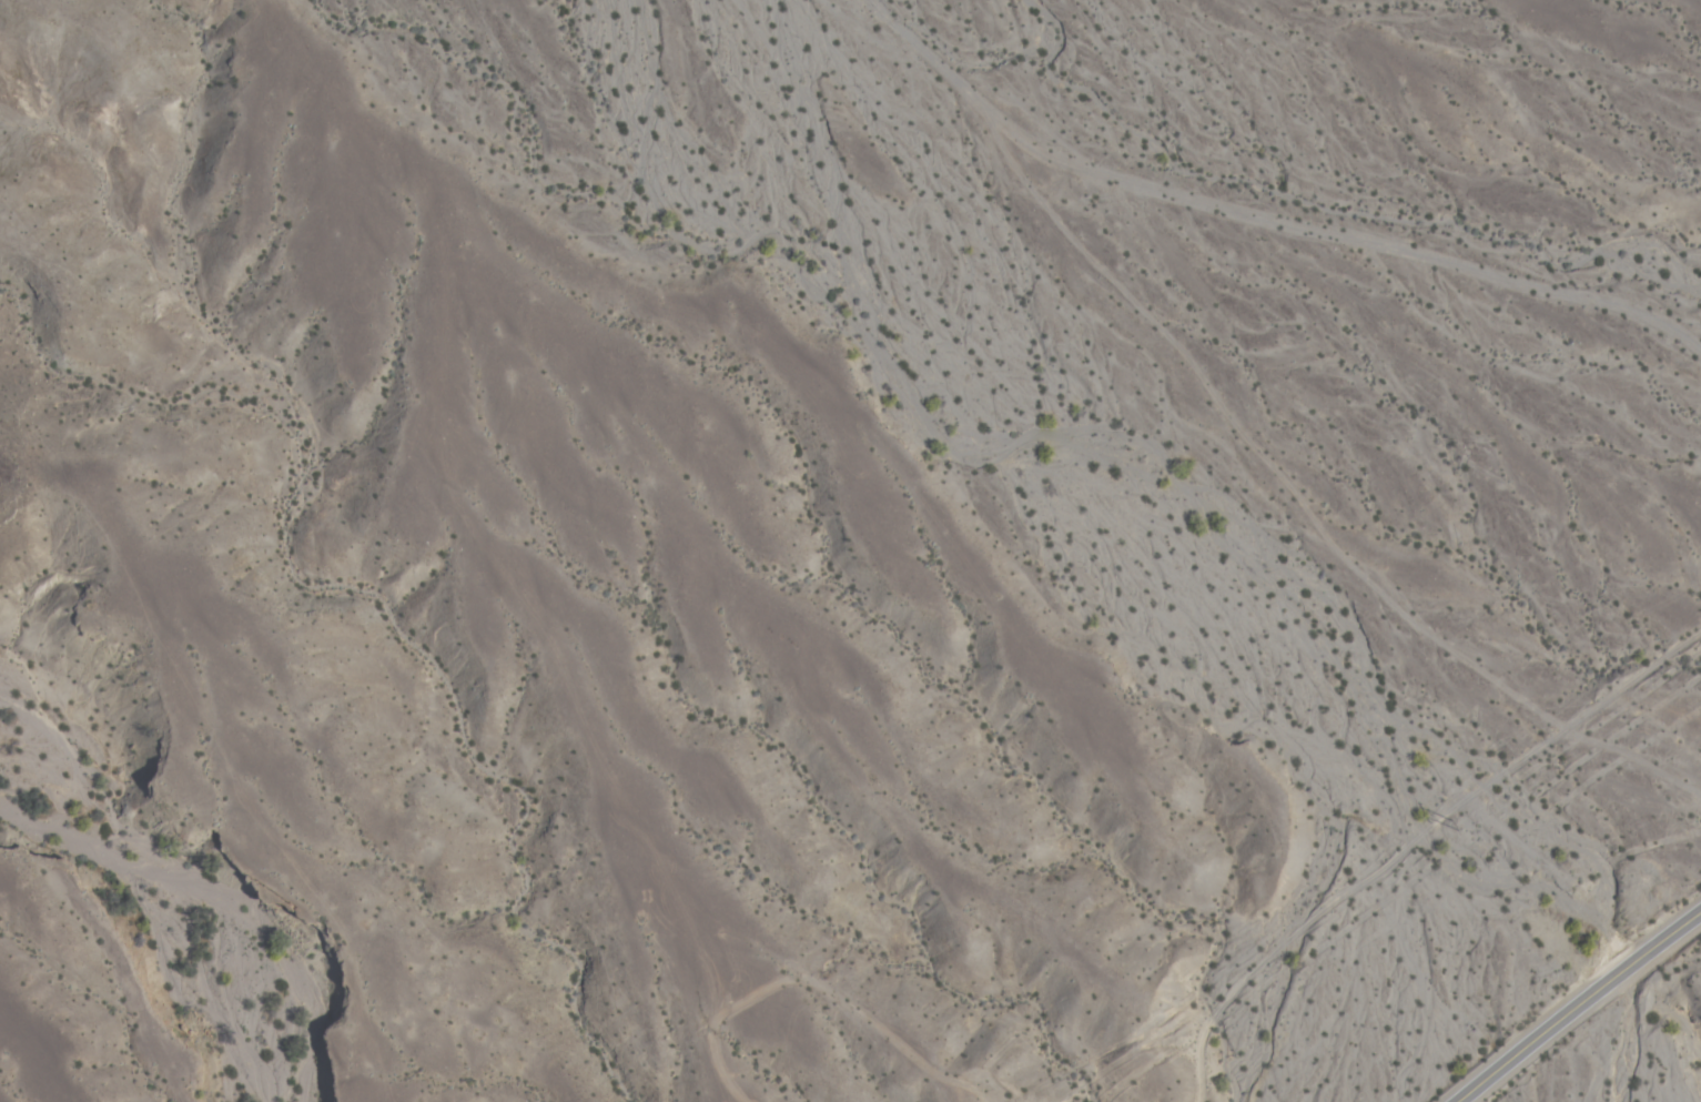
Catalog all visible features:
power tower: (1457, 822)
road: (1579, 1004)

